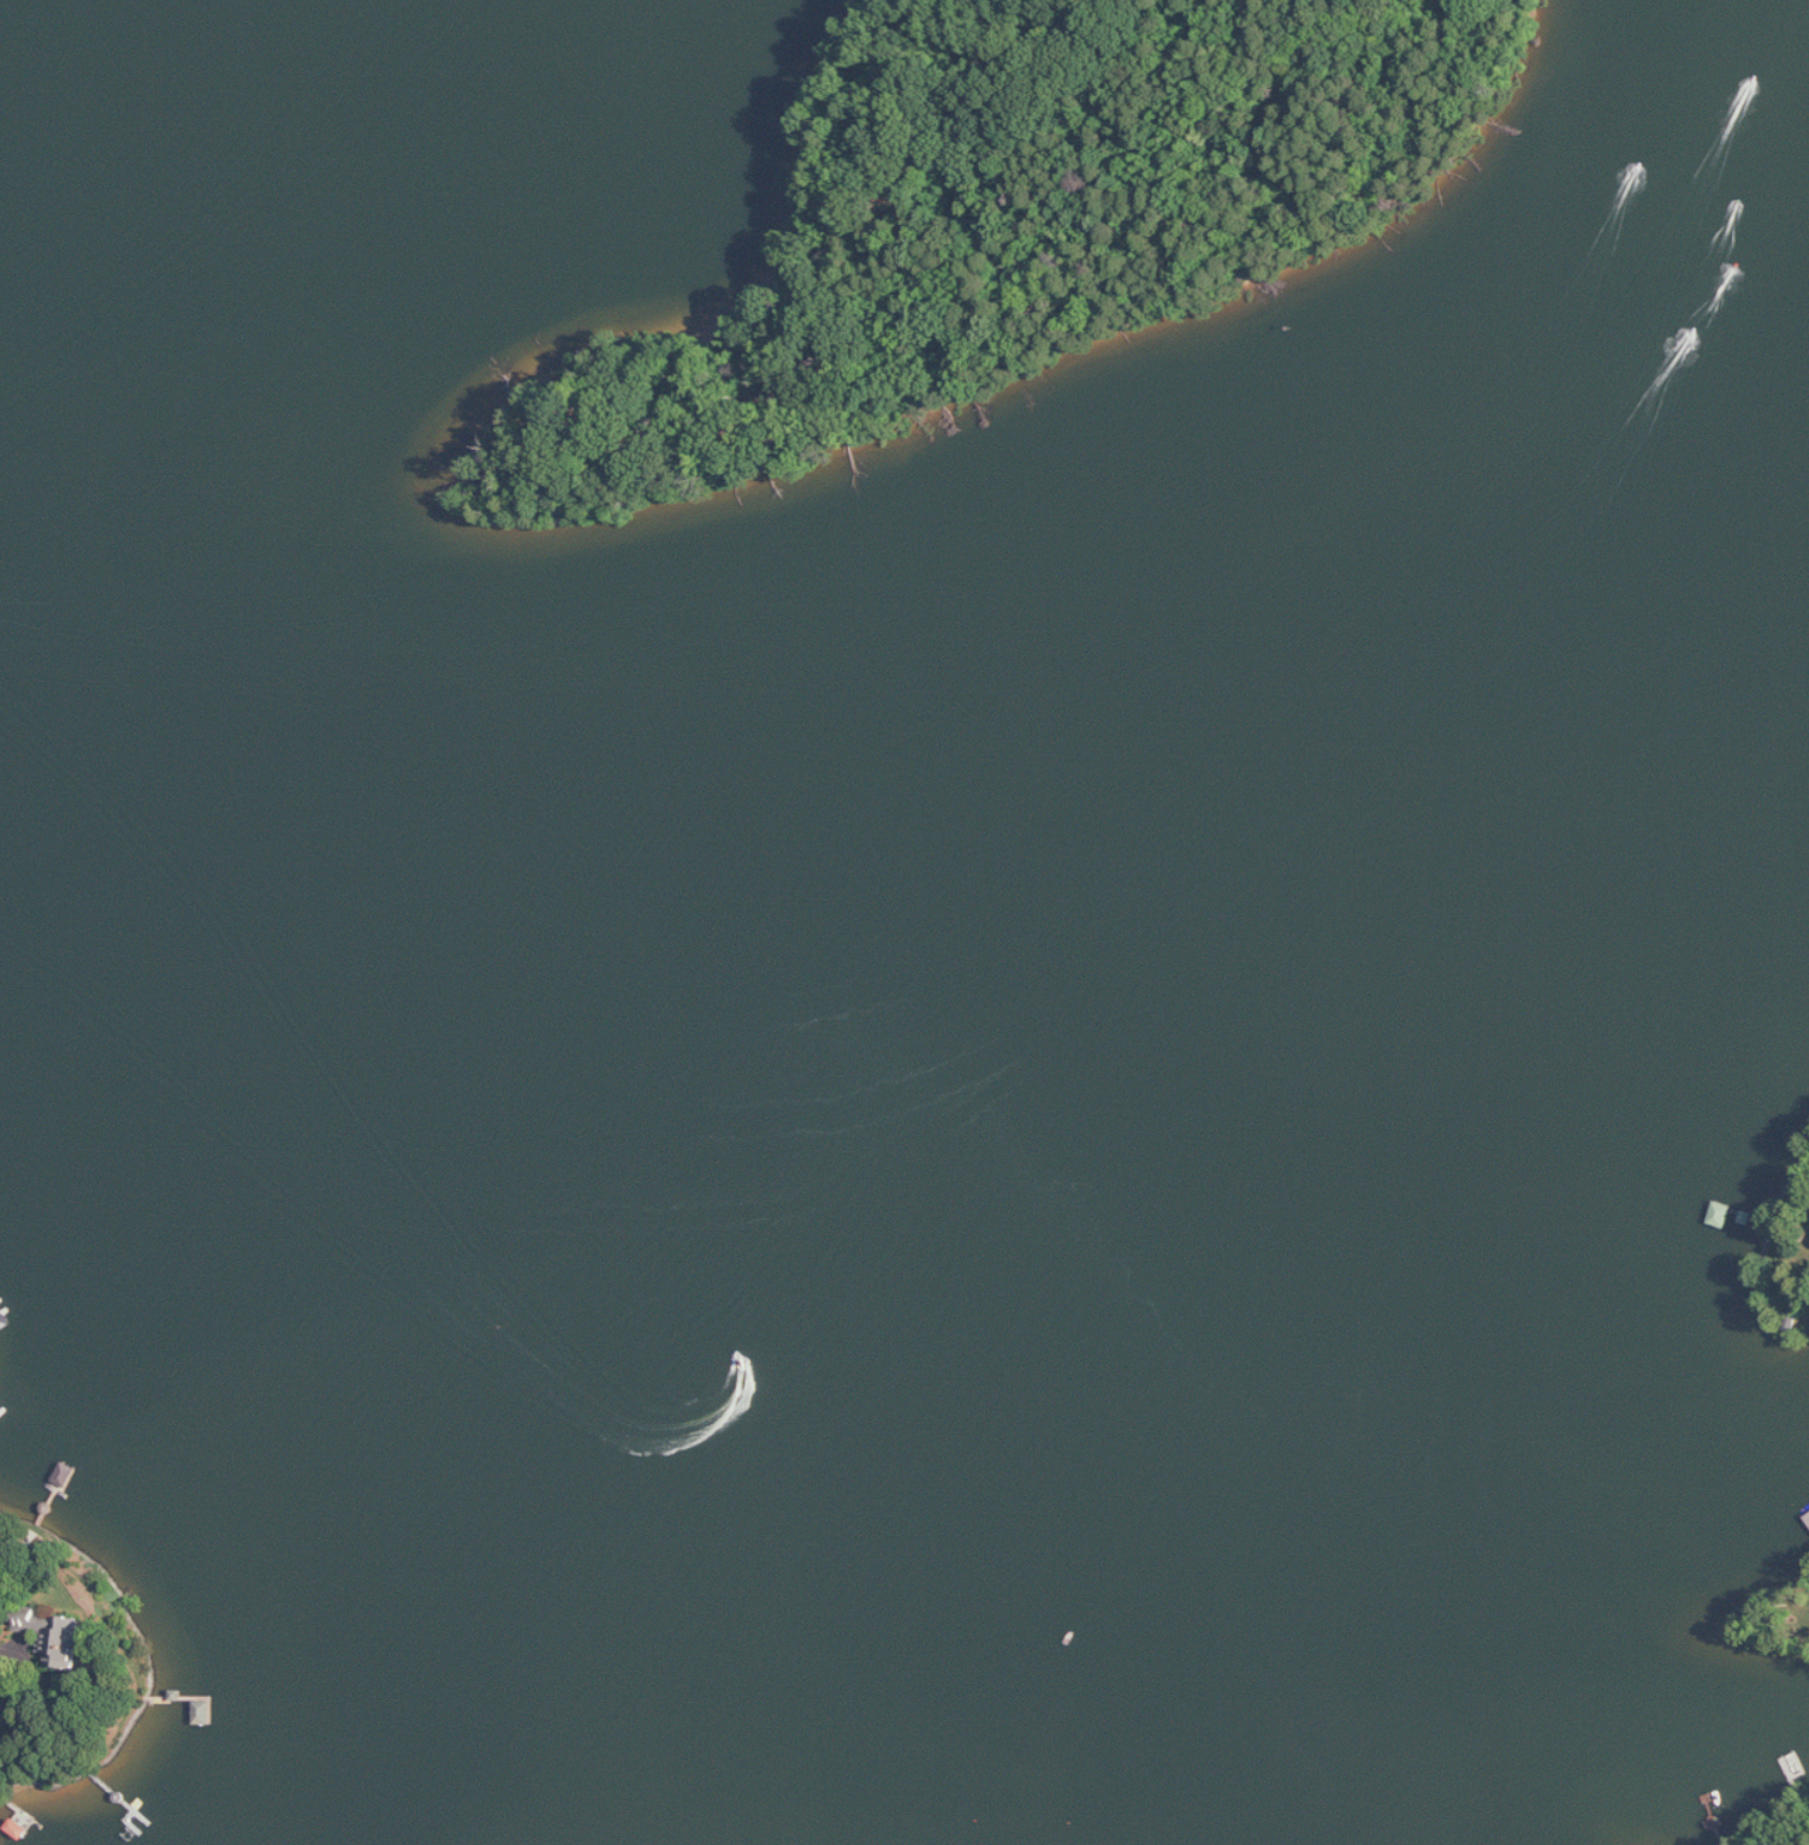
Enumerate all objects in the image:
river: (48, 55)
building: (58, 1637)
road: (8, 1648)
building: (2, 1714)

